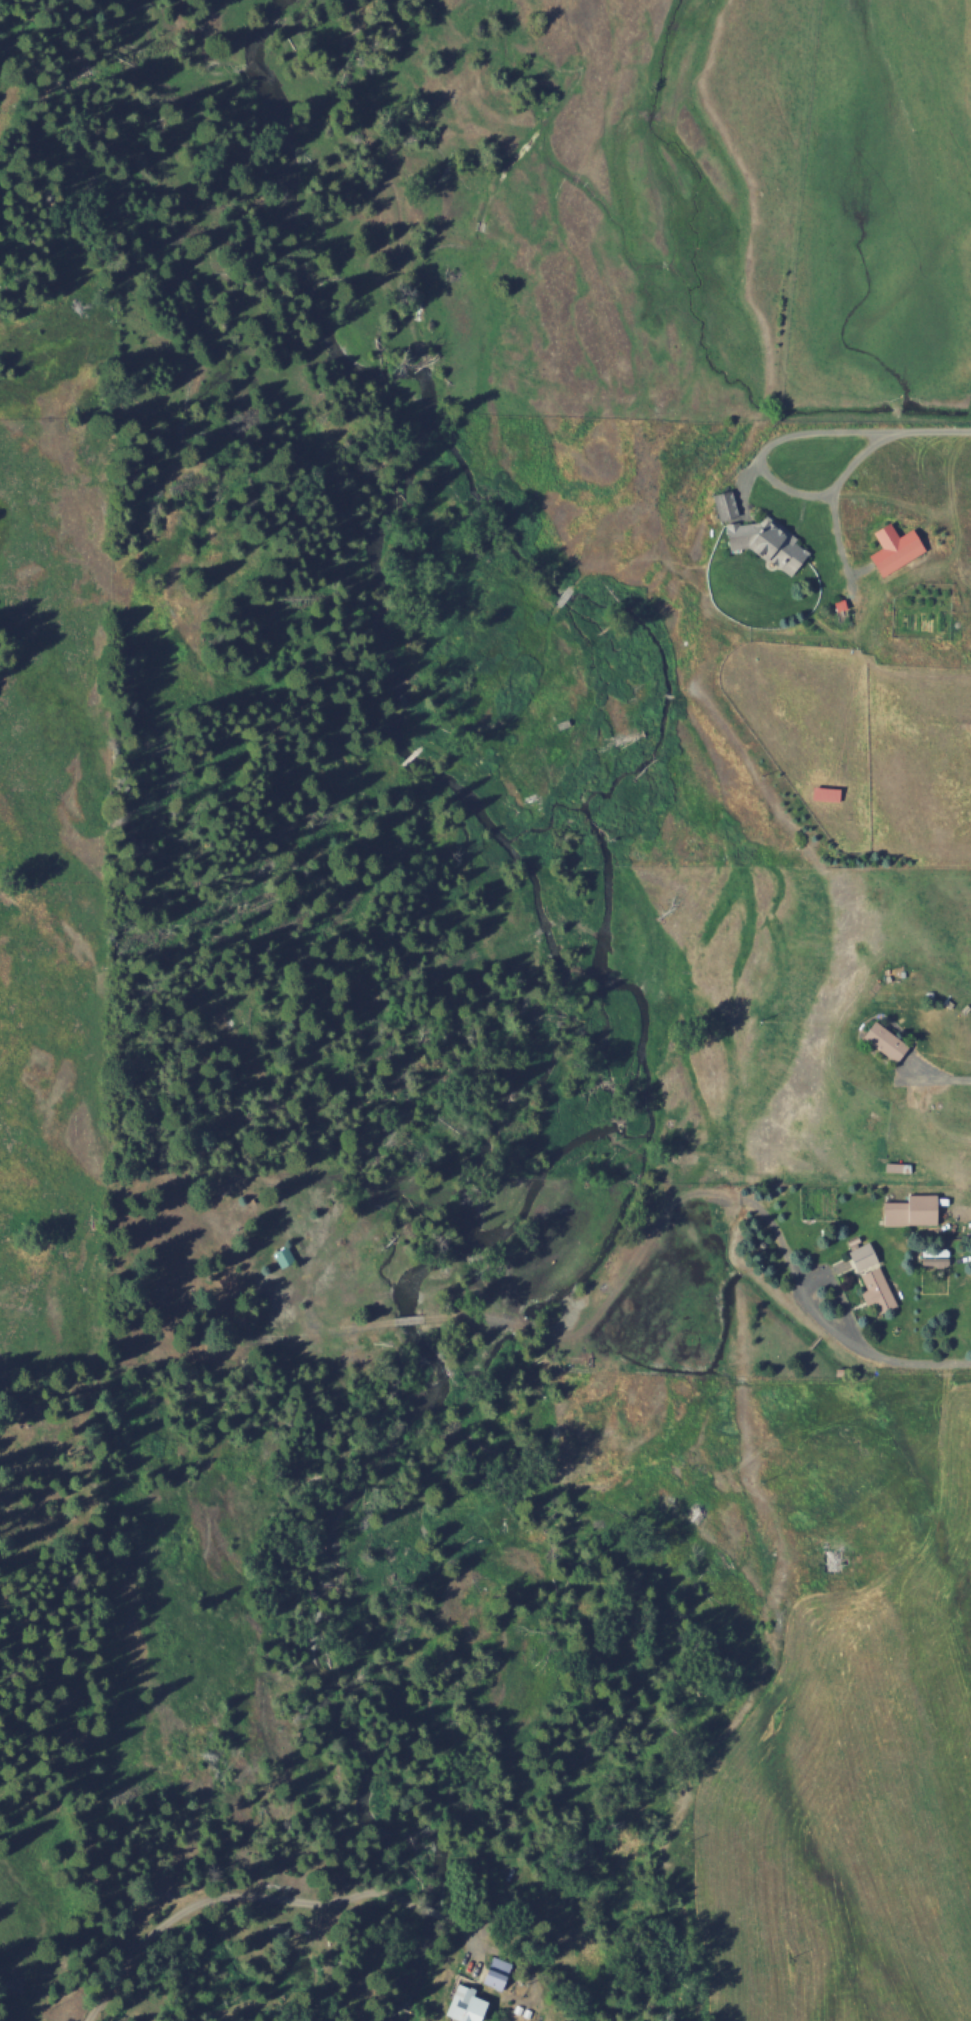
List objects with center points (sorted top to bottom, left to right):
road: (891, 425)
building: (727, 502)
building: (767, 541)
building: (893, 547)
building: (831, 791)
building: (891, 1040)
river: (573, 1076)
crop: (867, 1126)
building: (916, 1209)
building: (288, 1255)
building: (869, 1255)
building: (939, 1258)
building: (882, 1289)
building: (502, 1974)
building: (472, 2004)

